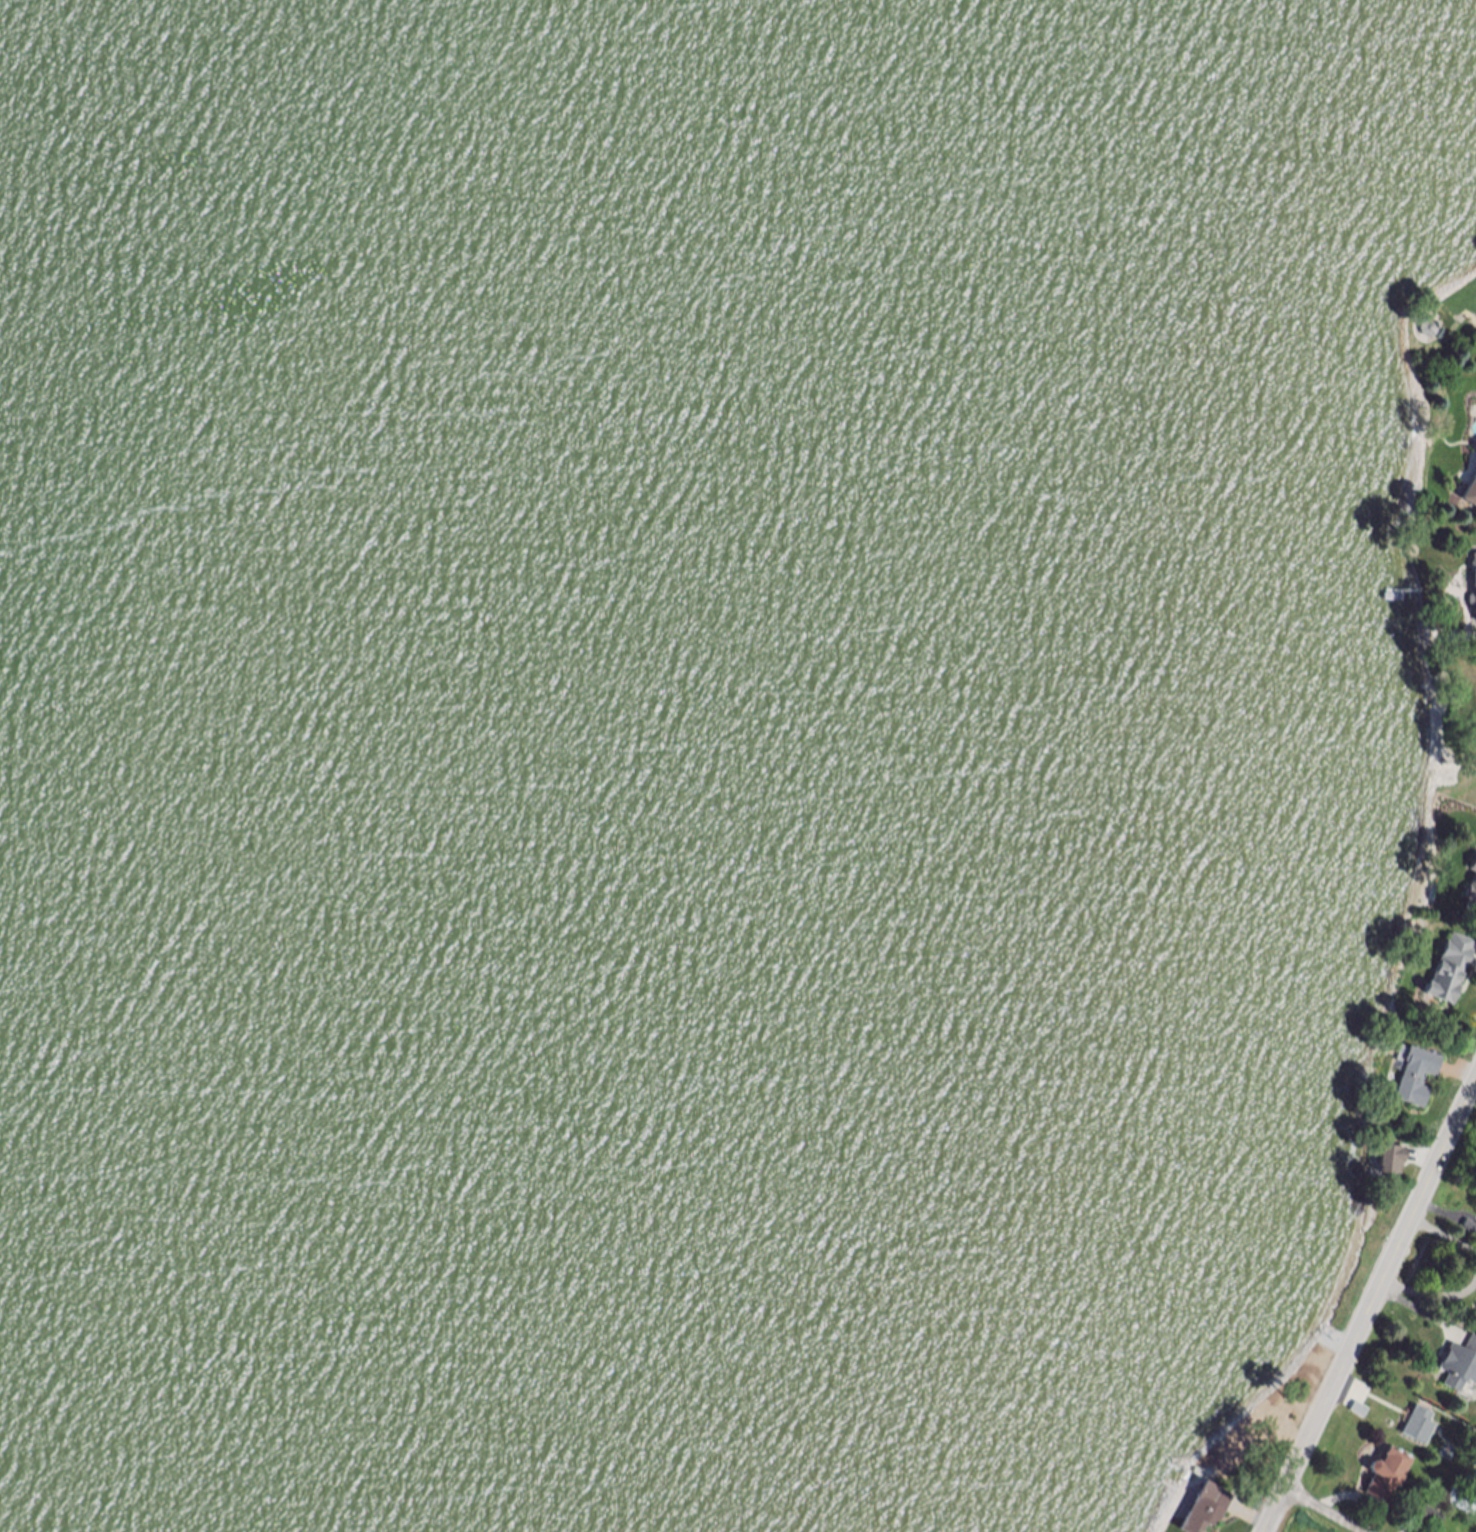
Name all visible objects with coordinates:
building: (1429, 328)
building: (1471, 496)
building: (1475, 558)
building: (1473, 602)
building: (1474, 867)
building: (1472, 896)
building: (1449, 971)
building: (1416, 1078)
building: (1390, 1158)
building: (1470, 1228)
road: (1445, 1235)
road: (1431, 1294)
road: (1371, 1308)
building: (1460, 1367)
building: (1361, 1410)
building: (1420, 1426)
building: (1387, 1475)
building: (1463, 1499)
building: (1208, 1509)
road: (1327, 1510)
building: (1428, 1519)
crop: (1310, 1521)

